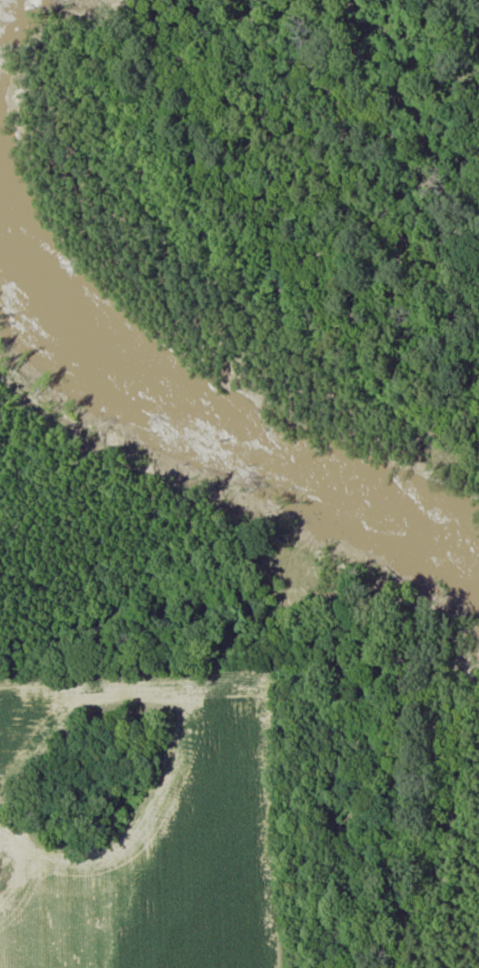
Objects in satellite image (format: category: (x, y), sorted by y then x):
river: (217, 416)

